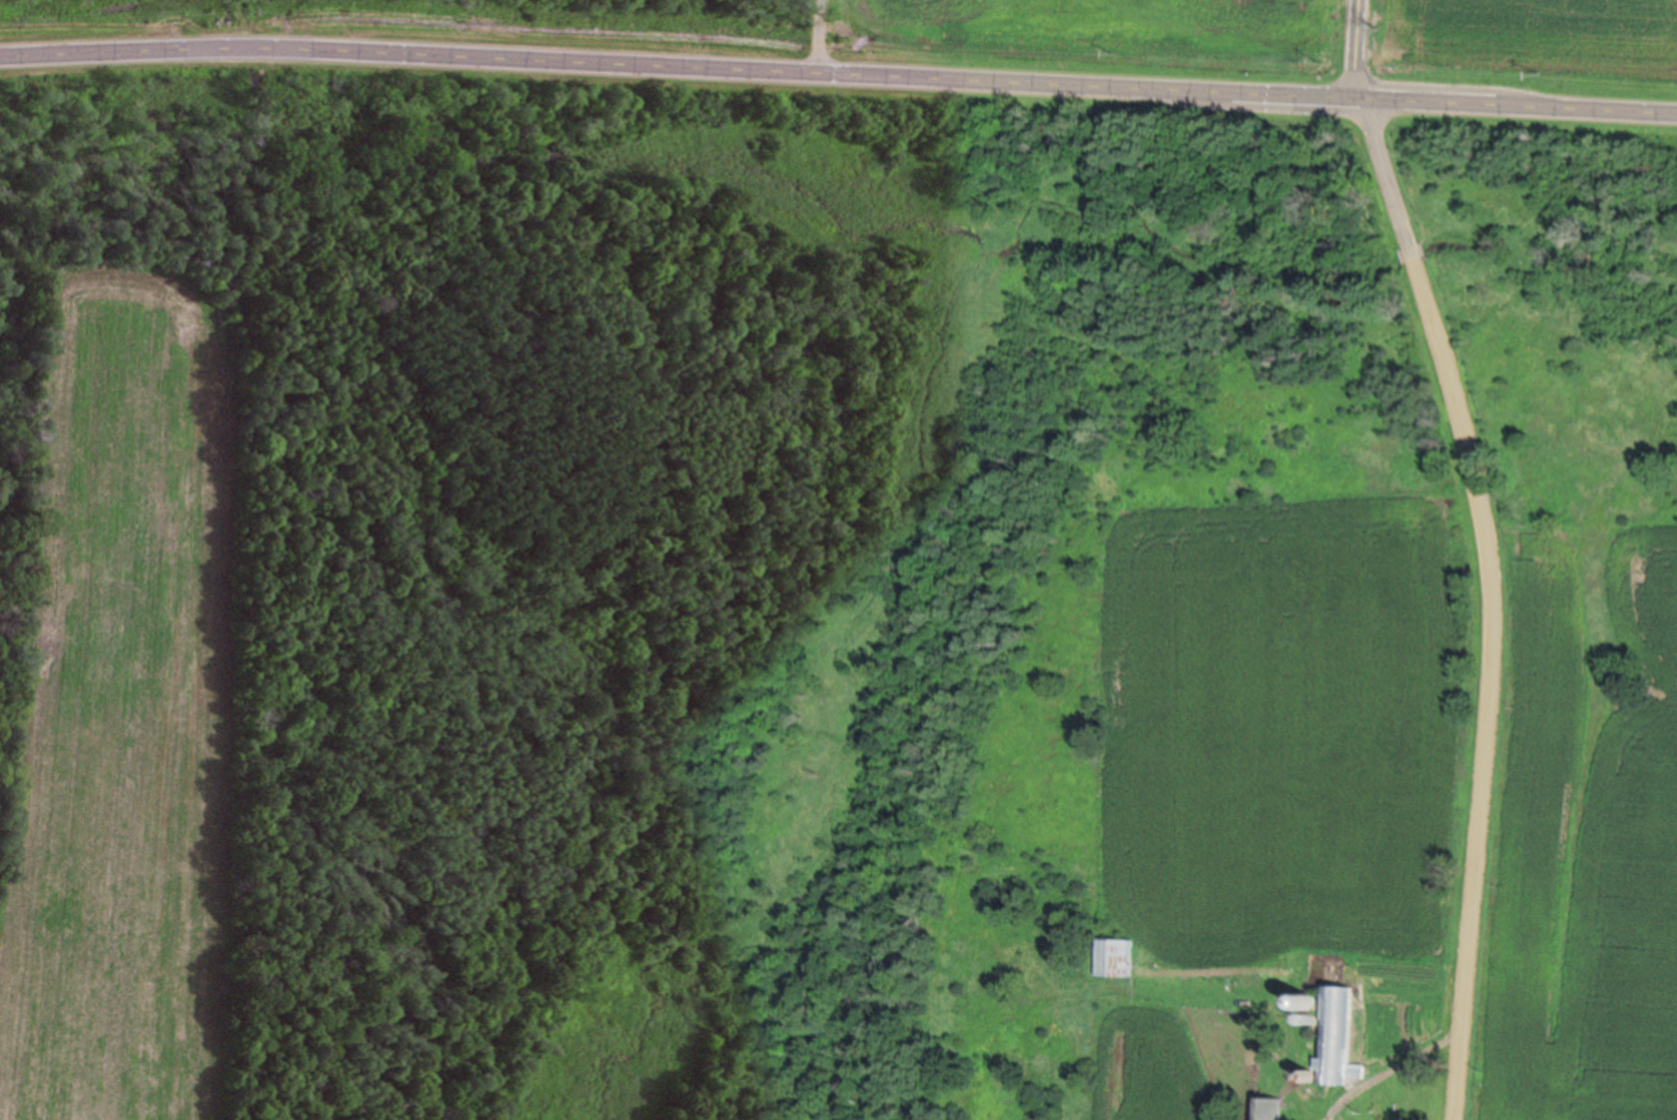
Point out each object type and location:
road: (821, 32)
road: (838, 64)
road: (1445, 554)
building: (1114, 955)
building: (1335, 1035)
building: (1267, 1107)

